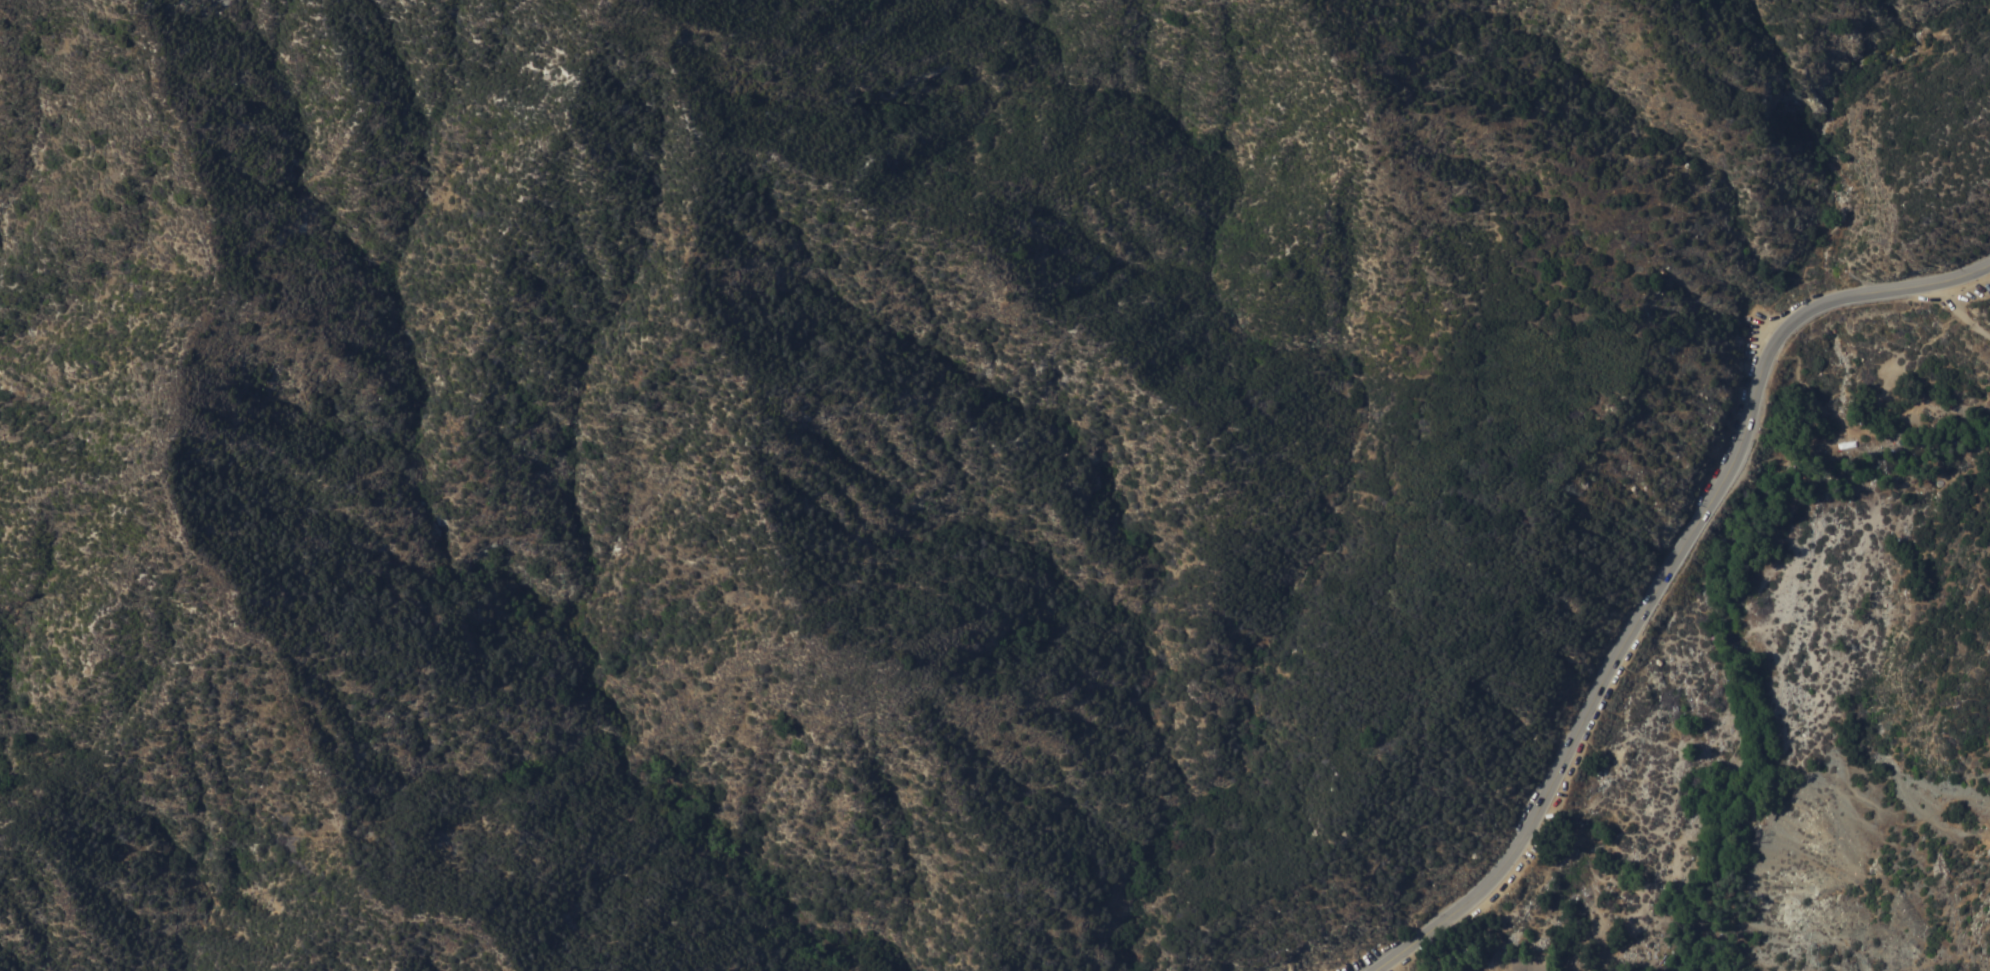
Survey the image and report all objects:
road: (1960, 310)
road: (1657, 577)
river: (1748, 640)

